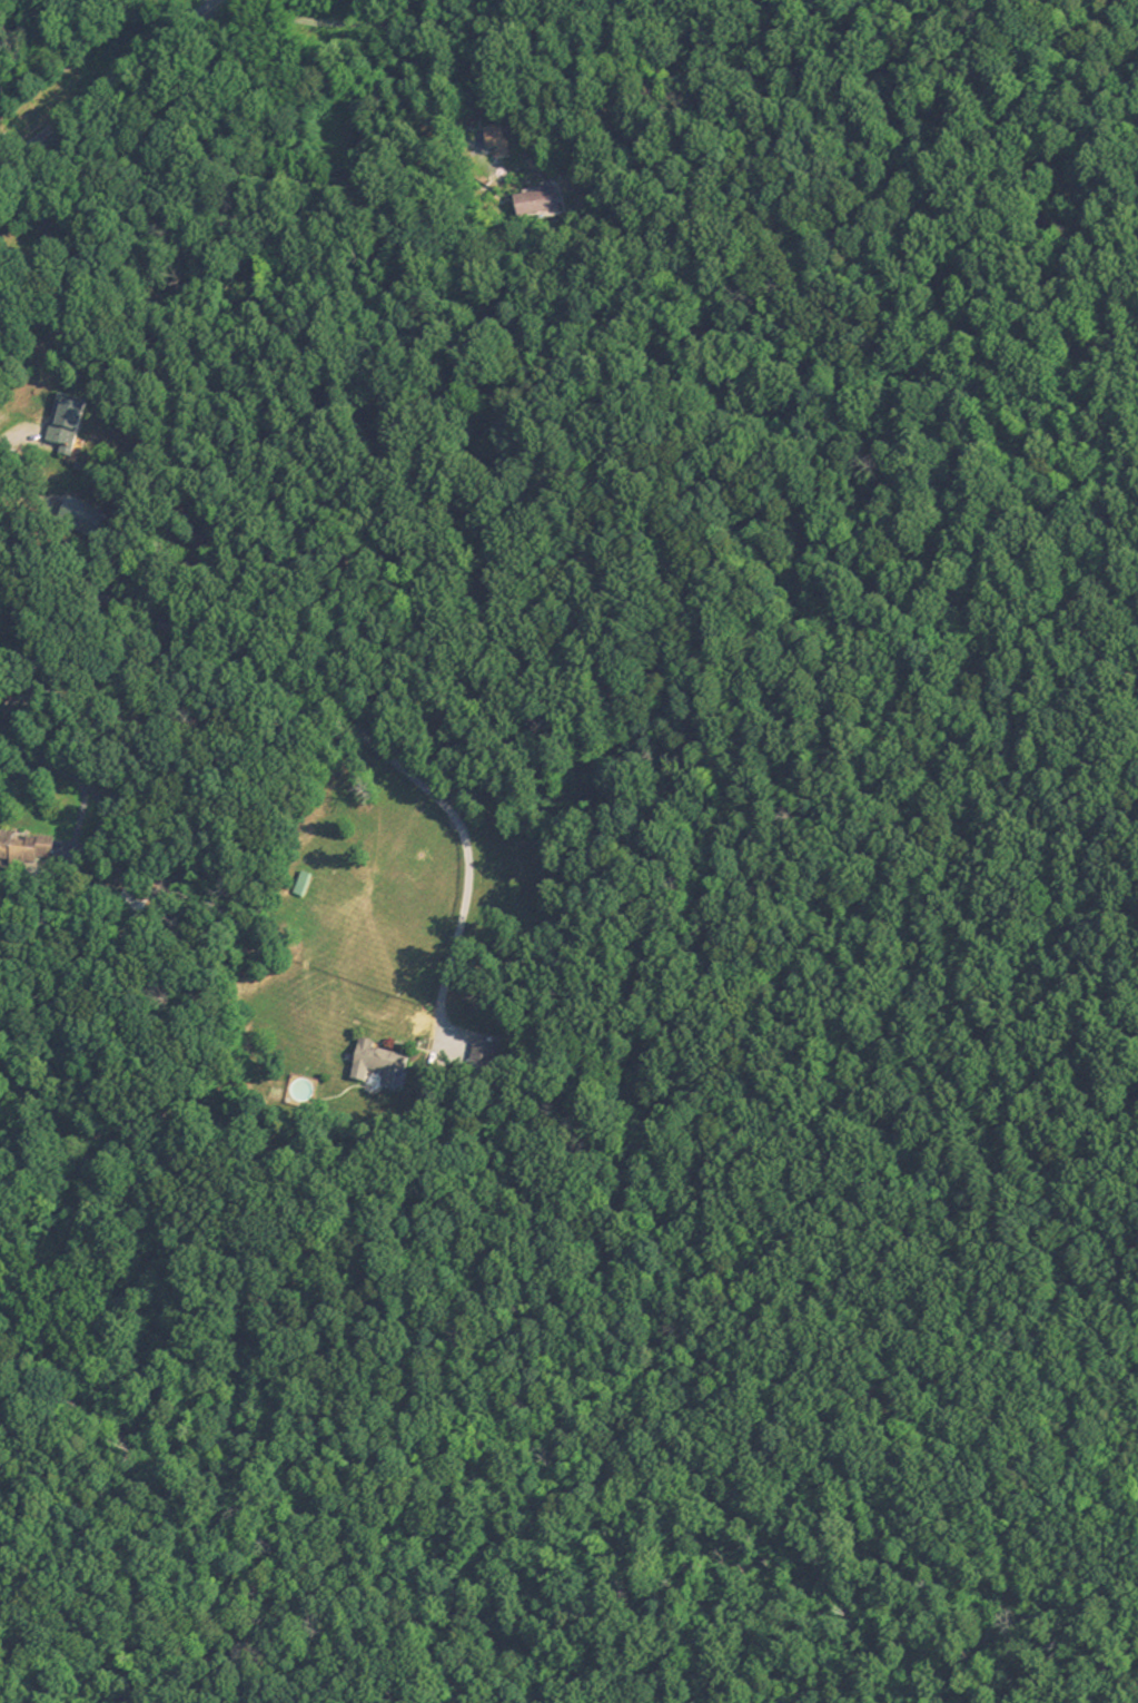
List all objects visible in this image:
road: (416, 39)
road: (111, 86)
building: (538, 205)
road: (17, 422)
building: (66, 423)
road: (334, 715)
road: (39, 758)
road: (101, 808)
road: (79, 818)
road: (179, 826)
building: (9, 853)
building: (303, 887)
building: (483, 1055)
building: (377, 1064)
road: (99, 1141)

